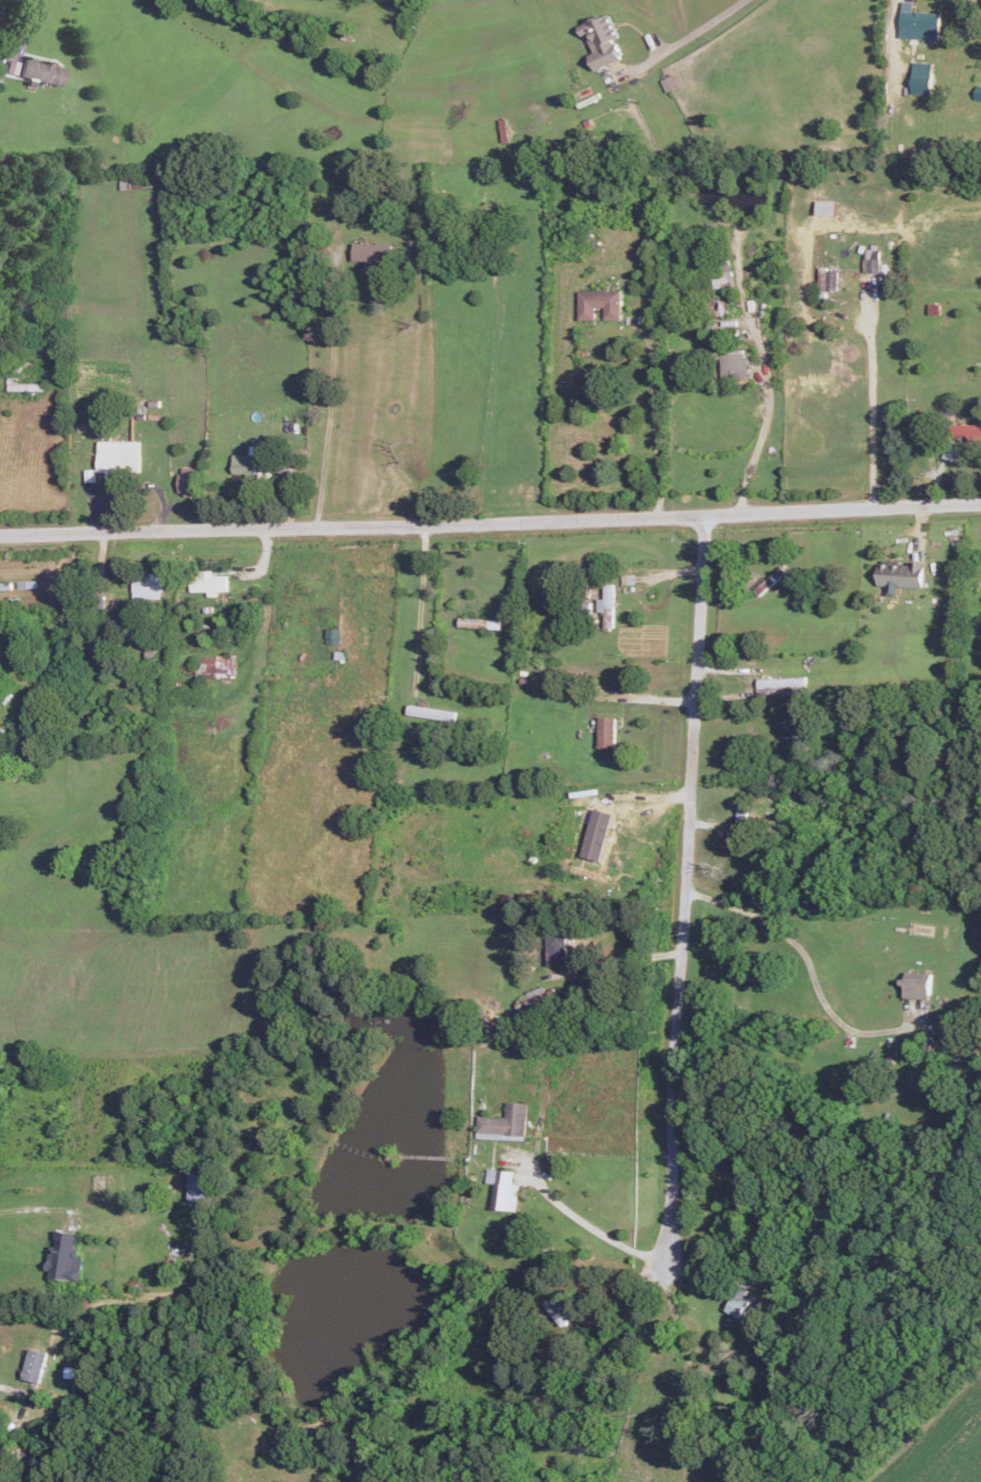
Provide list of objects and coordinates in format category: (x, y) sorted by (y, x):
road: (22, 22)
building: (918, 22)
road: (700, 28)
building: (601, 39)
building: (13, 65)
building: (43, 71)
building: (921, 77)
building: (668, 82)
building: (977, 91)
building: (825, 206)
building: (372, 251)
building: (871, 259)
building: (827, 278)
building: (599, 303)
building: (734, 364)
building: (1, 365)
building: (25, 385)
road: (330, 393)
road: (872, 400)
road: (651, 419)
road: (766, 421)
building: (970, 430)
building: (119, 457)
building: (90, 474)
building: (188, 481)
road: (490, 519)
building: (900, 573)
building: (209, 582)
building: (148, 585)
building: (607, 604)
building: (479, 622)
building: (332, 635)
building: (214, 666)
building: (779, 683)
building: (430, 711)
building: (606, 730)
building: (597, 834)
road: (681, 882)
building: (557, 944)
road: (808, 962)
road: (619, 963)
building: (916, 984)
building: (541, 994)
building: (495, 1030)
building: (946, 1033)
building: (504, 1122)
building: (199, 1186)
building: (503, 1188)
road: (37, 1207)
road: (593, 1228)
building: (63, 1256)
building: (739, 1302)
building: (556, 1309)
building: (34, 1364)
road: (13, 1391)

